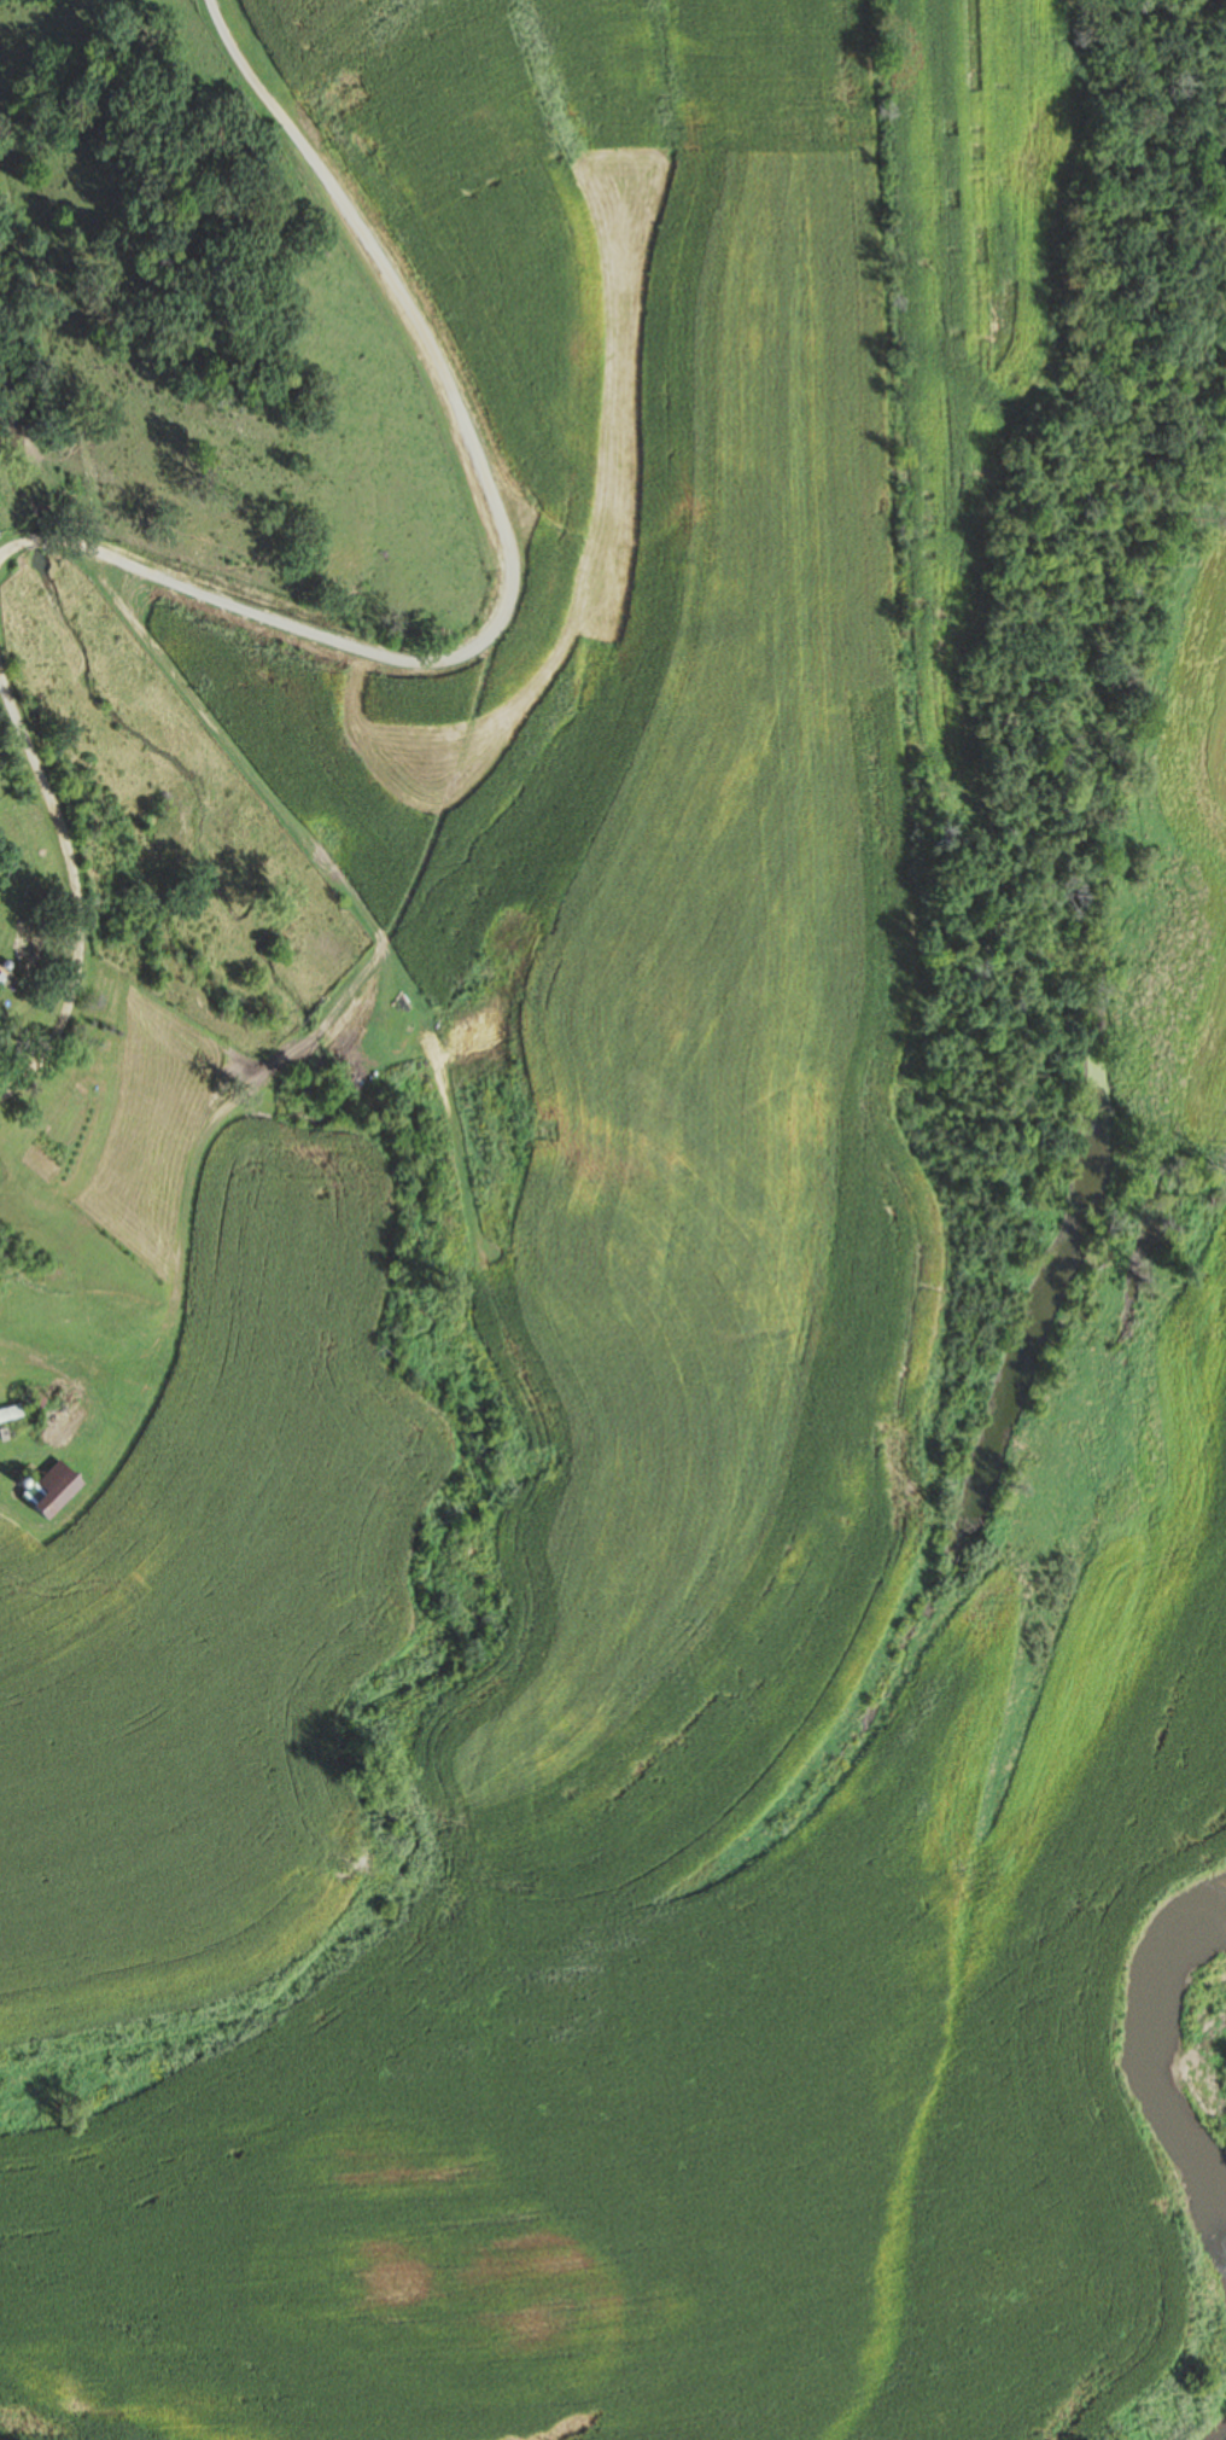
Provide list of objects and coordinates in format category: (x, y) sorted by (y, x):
building: (0, 978)
building: (39, 1299)
building: (136, 1351)
building: (46, 1408)
building: (11, 1413)
building: (54, 1492)
river: (1197, 2086)
river: (1201, 2422)

